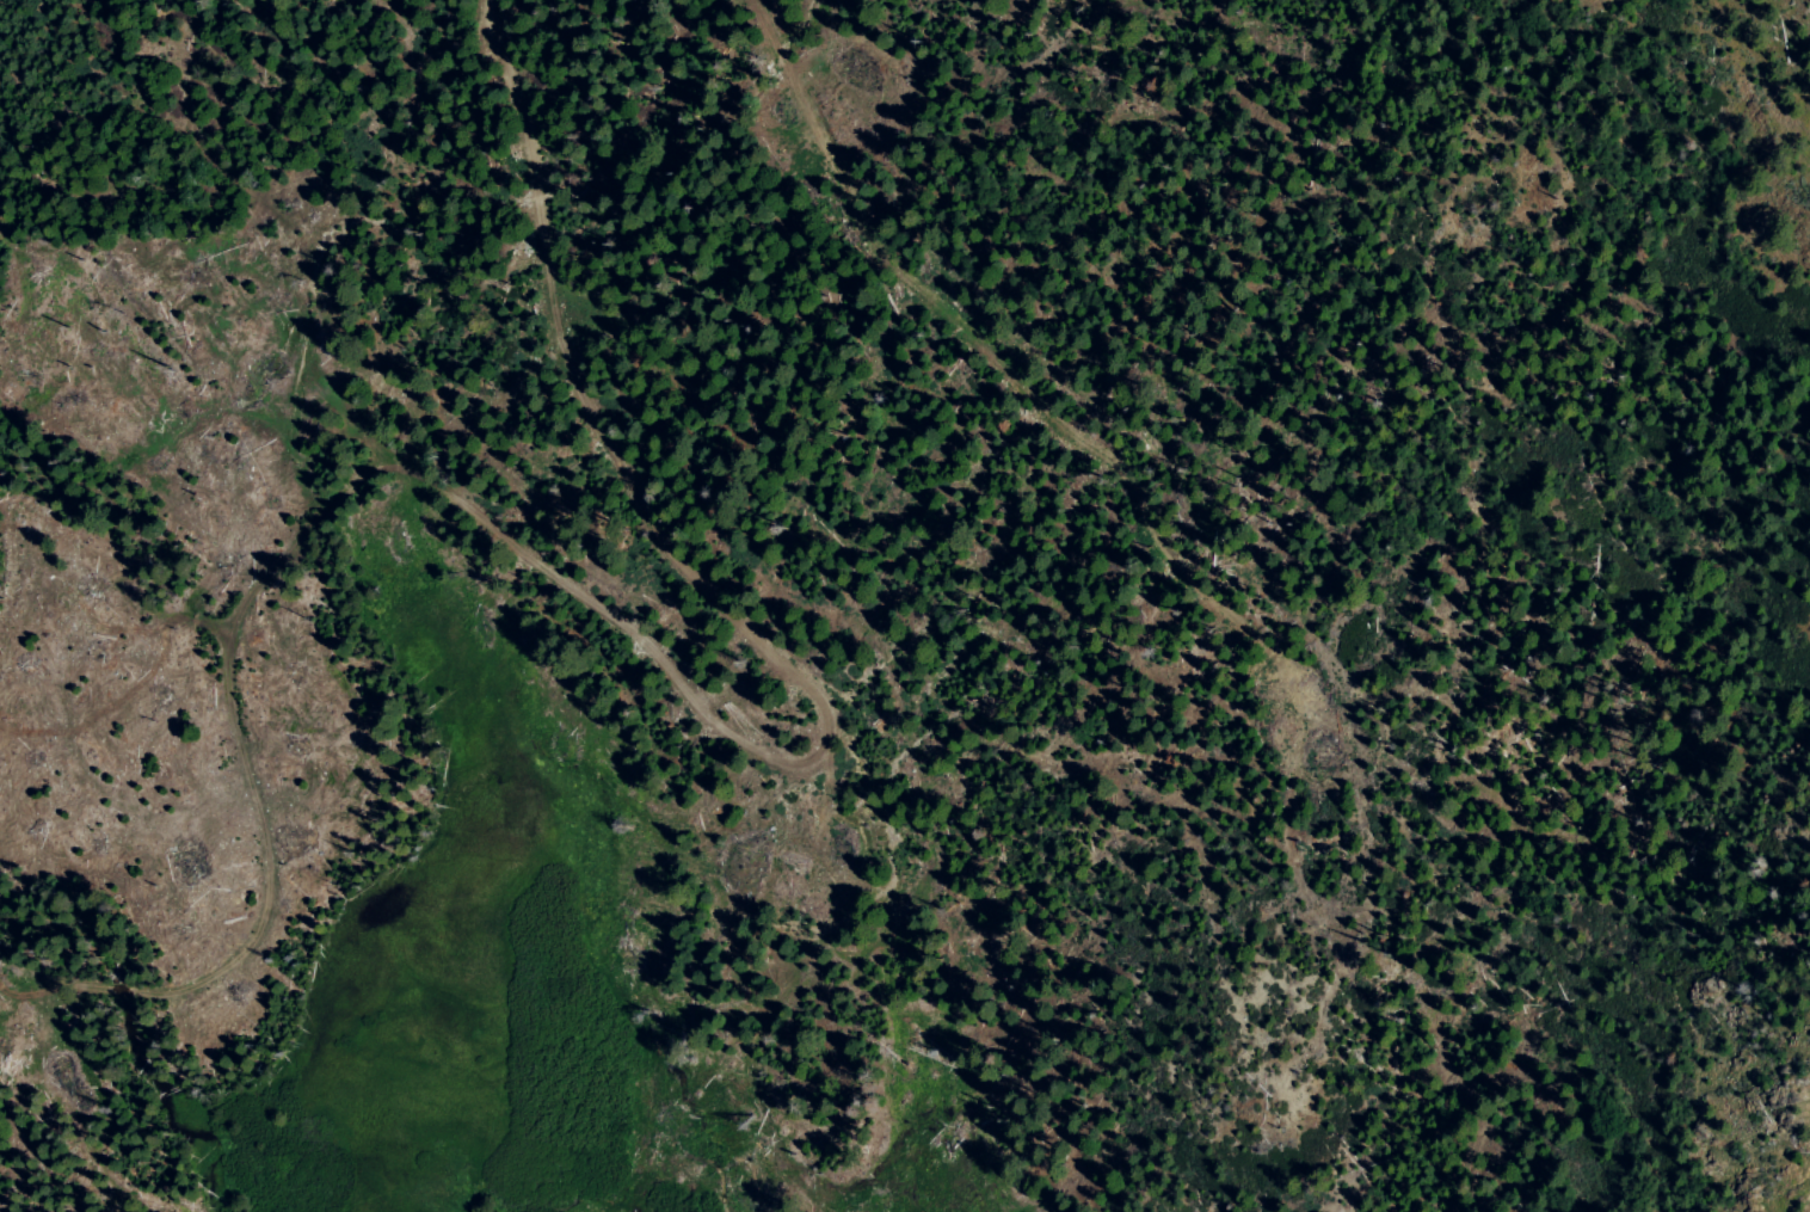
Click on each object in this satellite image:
road: (688, 699)

